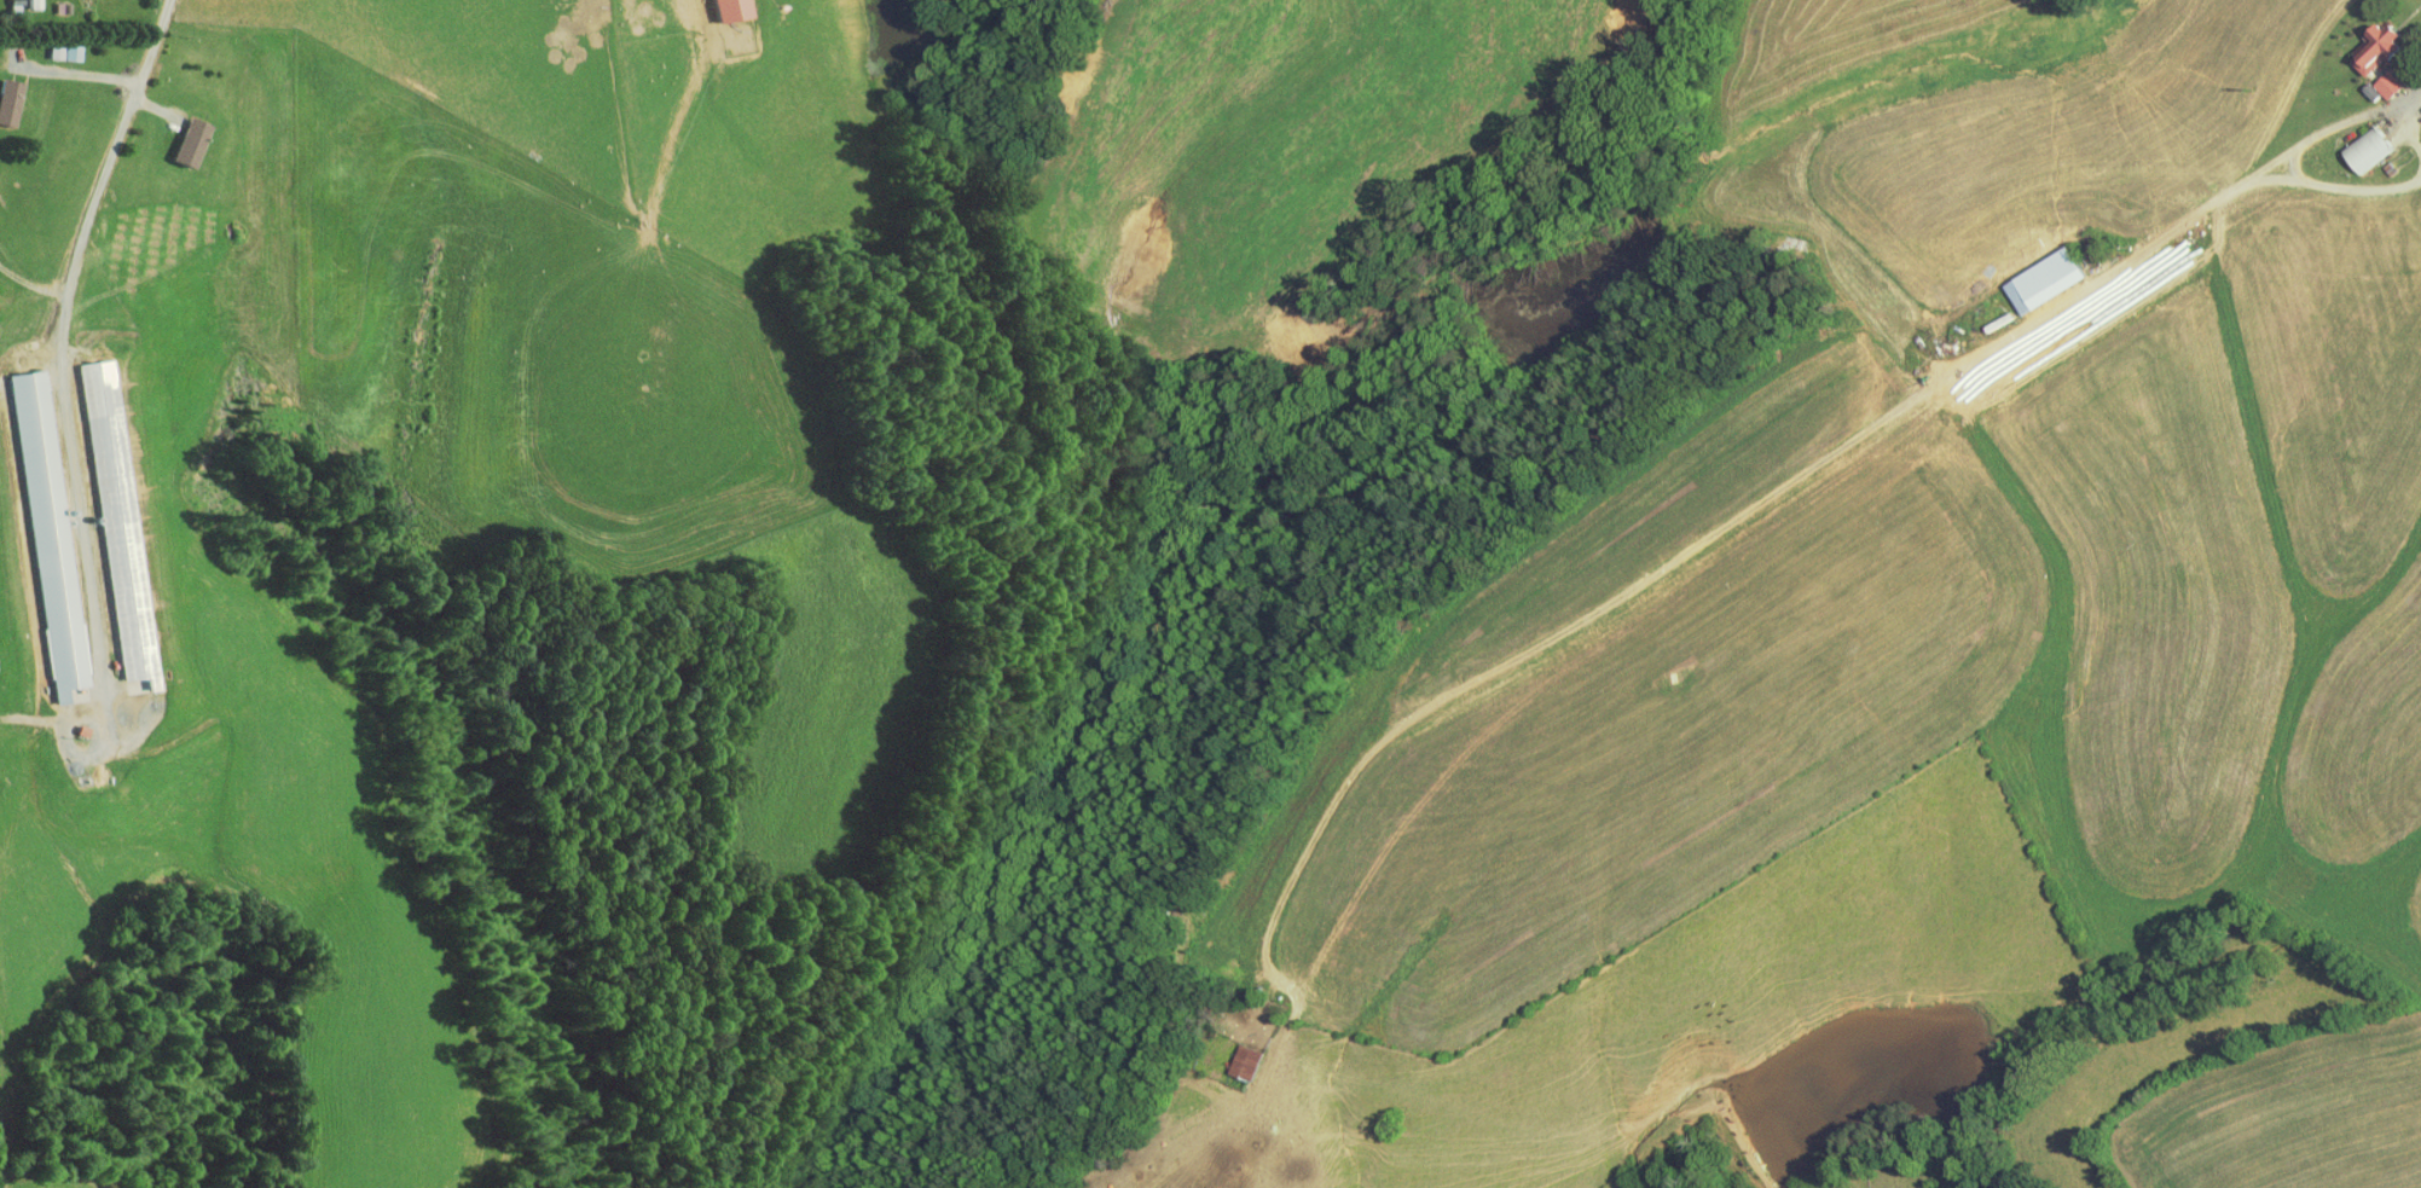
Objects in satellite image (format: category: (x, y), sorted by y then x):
building: (16, 0)
building: (717, 5)
building: (2365, 37)
building: (50, 44)
building: (2376, 76)
building: (2361, 82)
building: (2, 86)
building: (174, 133)
building: (2357, 140)
building: (2037, 265)
road: (63, 285)
building: (103, 512)
building: (35, 529)
road: (70, 653)
building: (1234, 1054)

